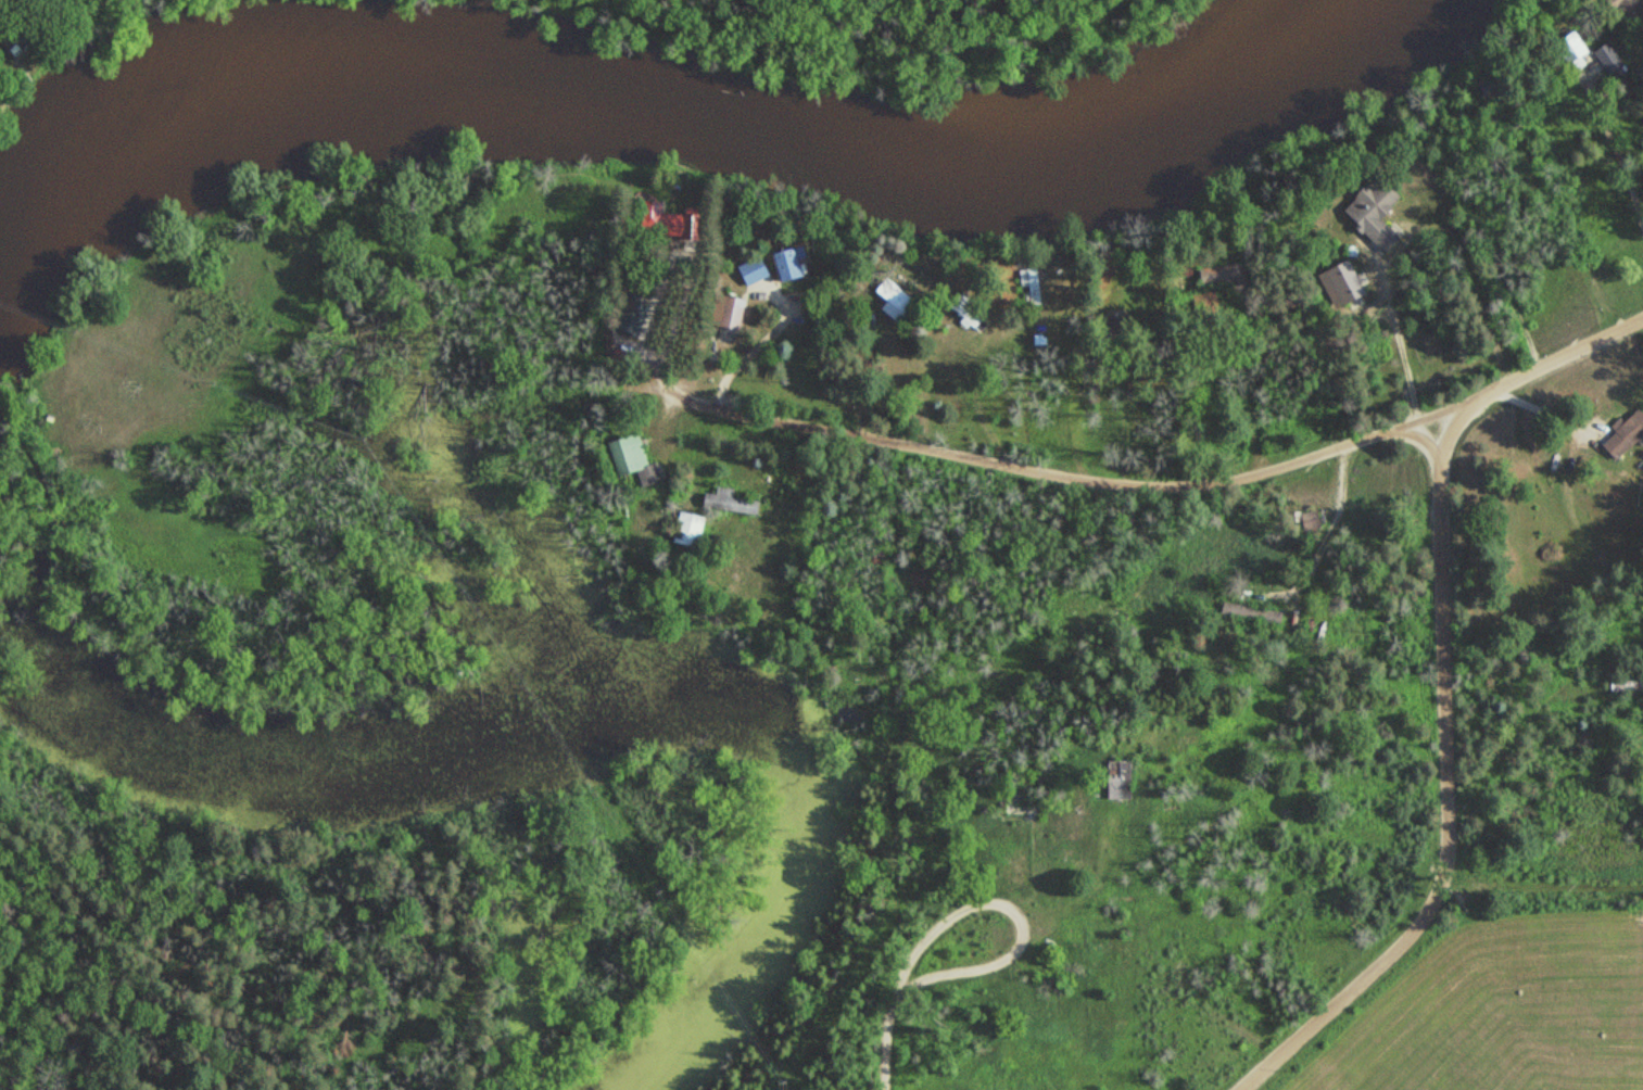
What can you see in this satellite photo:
river: (654, 113)
building: (1380, 213)
building: (674, 226)
building: (793, 265)
building: (759, 270)
building: (1238, 278)
building: (898, 301)
building: (1627, 436)
building: (635, 459)
road: (1076, 491)
building: (735, 502)
building: (693, 529)
building: (1107, 621)
road: (1442, 685)
building: (1126, 780)
road: (1018, 917)
road: (888, 1034)

